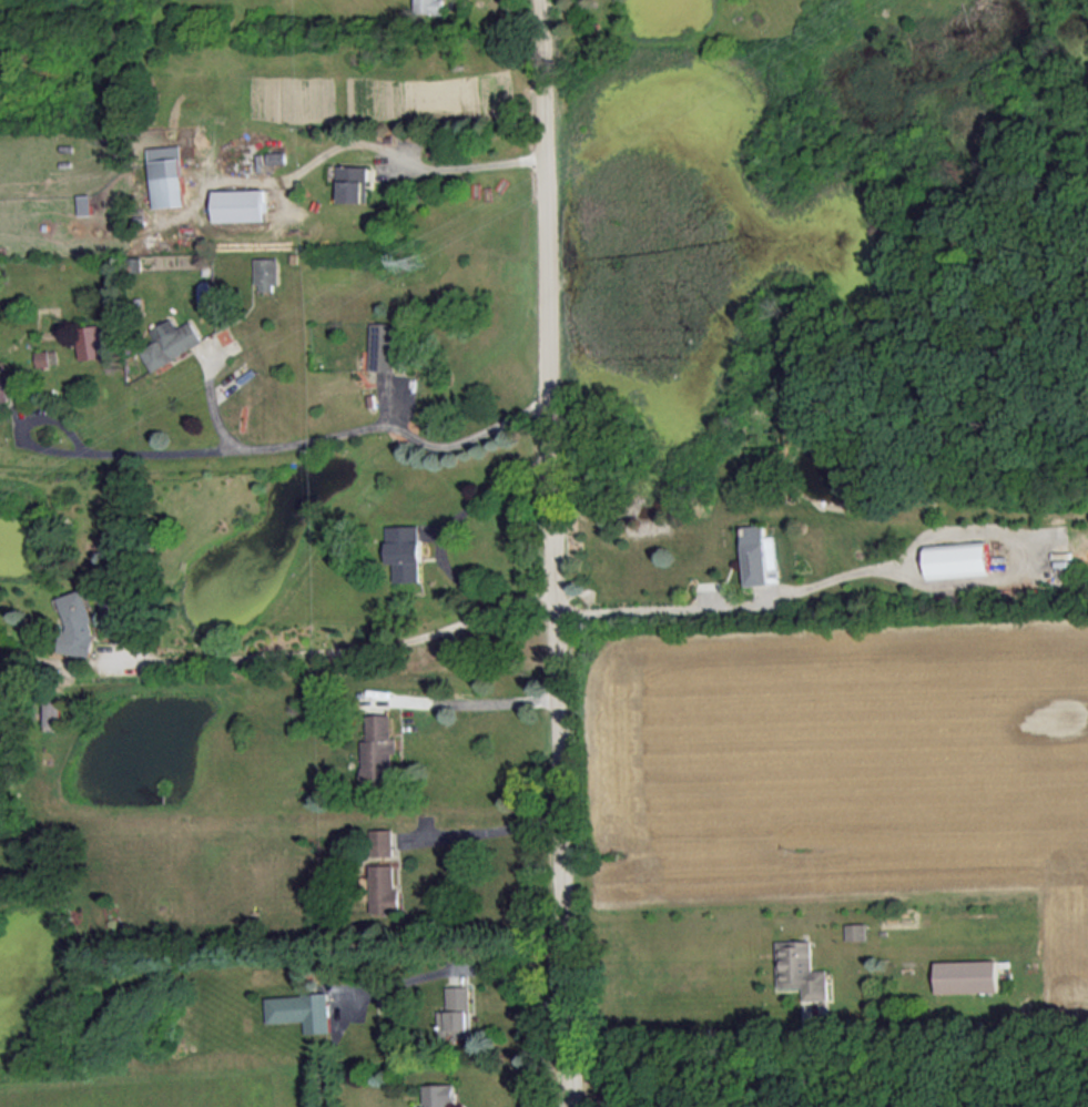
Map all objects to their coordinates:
building: (430, 6)
road: (410, 158)
building: (171, 175)
building: (355, 183)
building: (243, 204)
power tower: (395, 257)
building: (268, 273)
building: (93, 342)
building: (173, 342)
building: (384, 345)
building: (49, 356)
building: (11, 386)
road: (327, 436)
road: (451, 516)
building: (407, 551)
road: (560, 553)
building: (762, 553)
building: (960, 558)
road: (641, 608)
building: (77, 623)
road: (346, 646)
road: (475, 697)
building: (54, 711)
building: (380, 749)
road: (494, 827)
building: (384, 841)
building: (387, 888)
building: (857, 931)
road: (478, 968)
building: (802, 968)
building: (968, 975)
building: (303, 1009)
building: (457, 1013)
road: (712, 1033)
park: (851, 1072)
road: (614, 1077)
building: (440, 1094)

